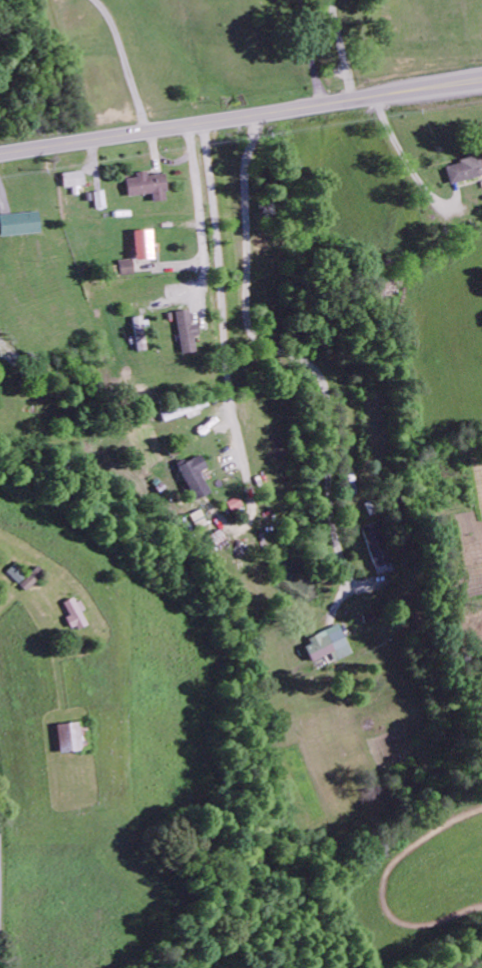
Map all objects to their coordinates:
building: (350, 0)
road: (241, 118)
building: (467, 170)
building: (147, 188)
building: (100, 202)
building: (19, 226)
road: (201, 227)
building: (144, 246)
building: (128, 269)
building: (187, 333)
building: (184, 412)
building: (194, 479)
building: (376, 547)
building: (14, 576)
building: (72, 617)
building: (328, 648)

